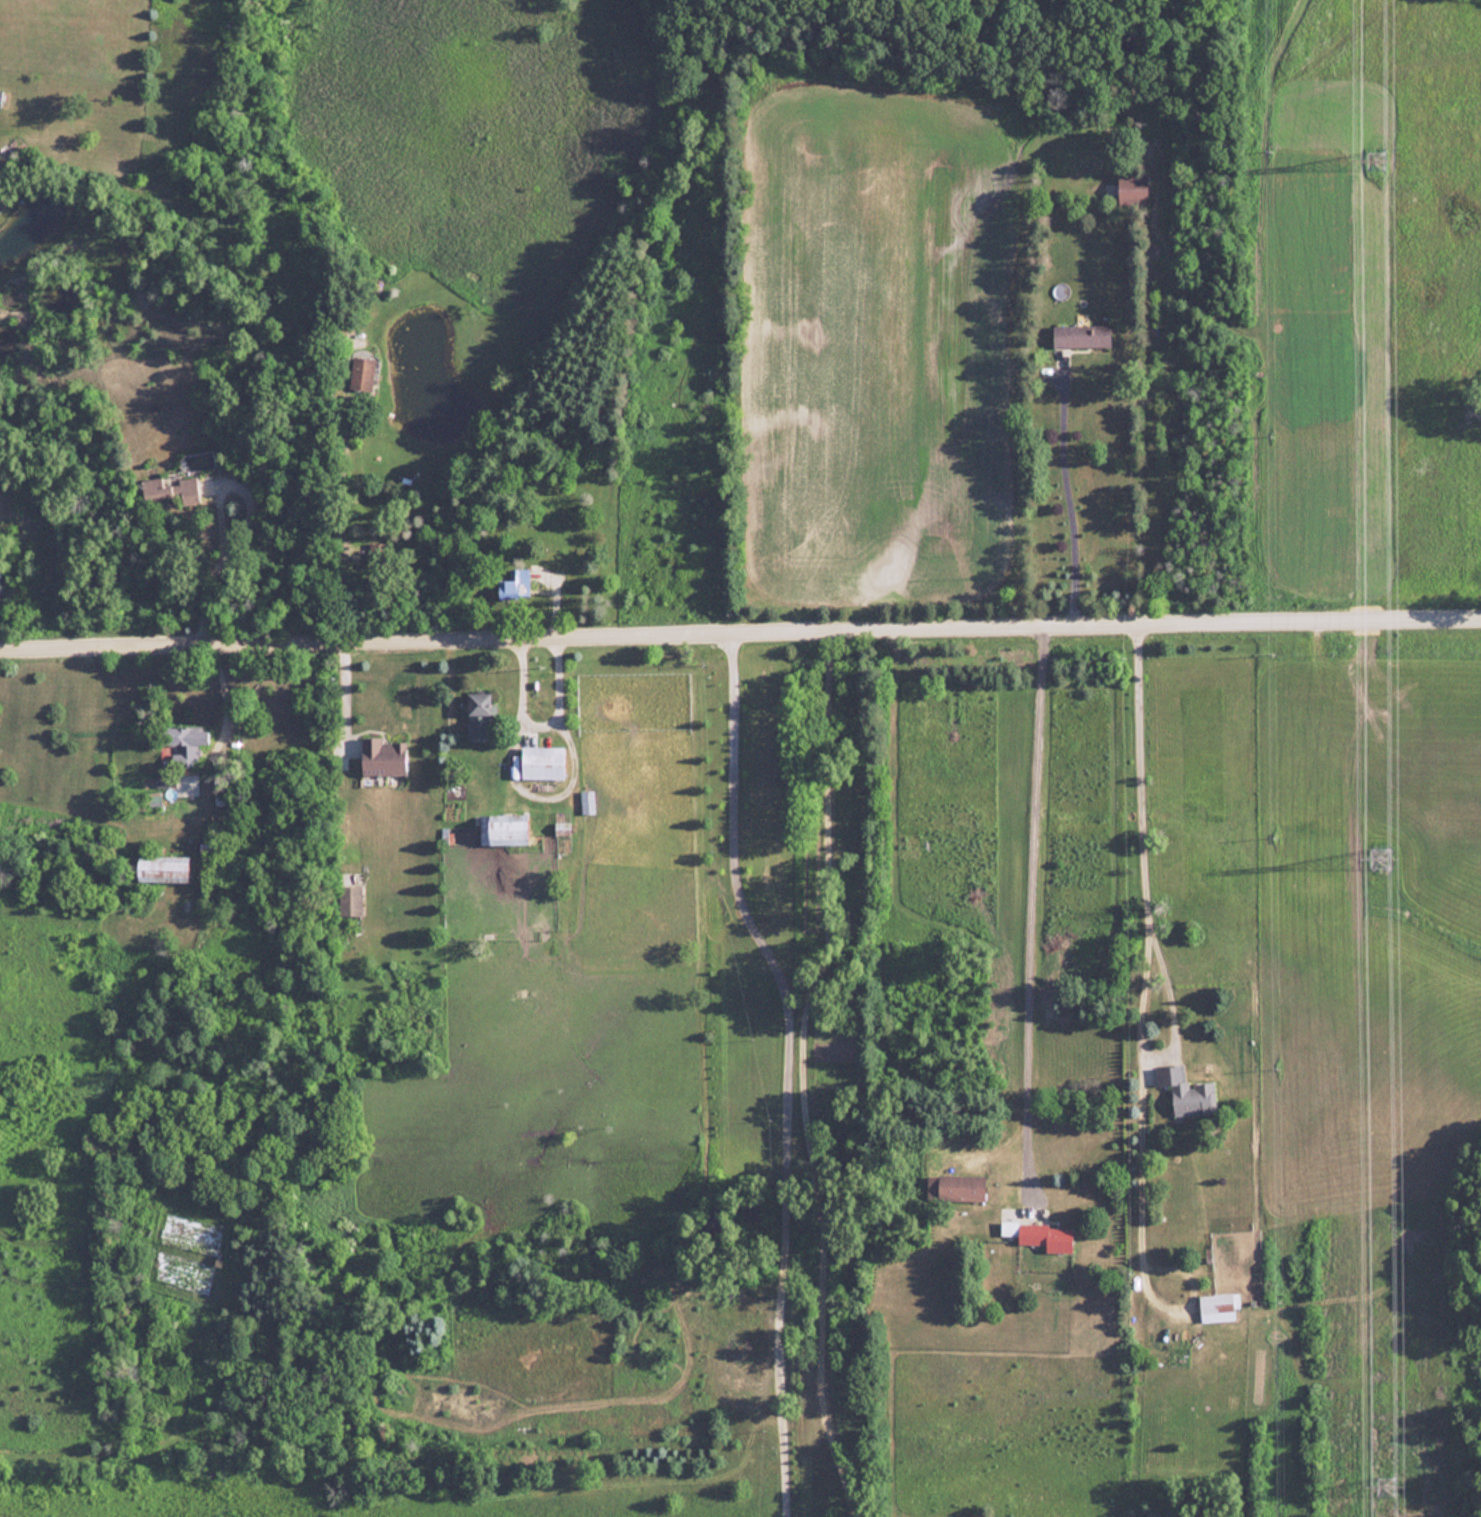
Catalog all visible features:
building: (0, 90)
power tower: (1375, 161)
building: (1130, 189)
building: (1079, 336)
building: (360, 373)
road: (1063, 489)
building: (170, 490)
road: (217, 565)
building: (514, 585)
road: (740, 628)
road: (222, 691)
road: (338, 696)
road: (533, 713)
building: (479, 716)
building: (185, 743)
building: (382, 757)
building: (541, 762)
road: (538, 786)
building: (586, 802)
road: (1138, 812)
building: (502, 829)
power tower: (1380, 861)
building: (162, 868)
building: (349, 900)
road: (1027, 915)
road: (783, 1067)
road: (800, 1073)
building: (1185, 1092)
building: (954, 1187)
building: (1039, 1235)
building: (1217, 1302)
power tower: (1386, 1487)

